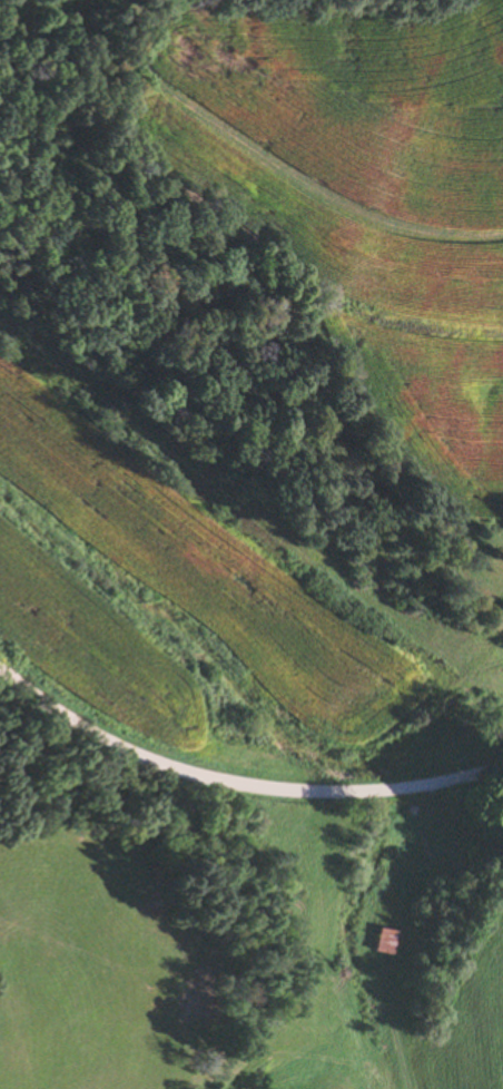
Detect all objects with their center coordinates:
road: (238, 776)
building: (384, 941)

